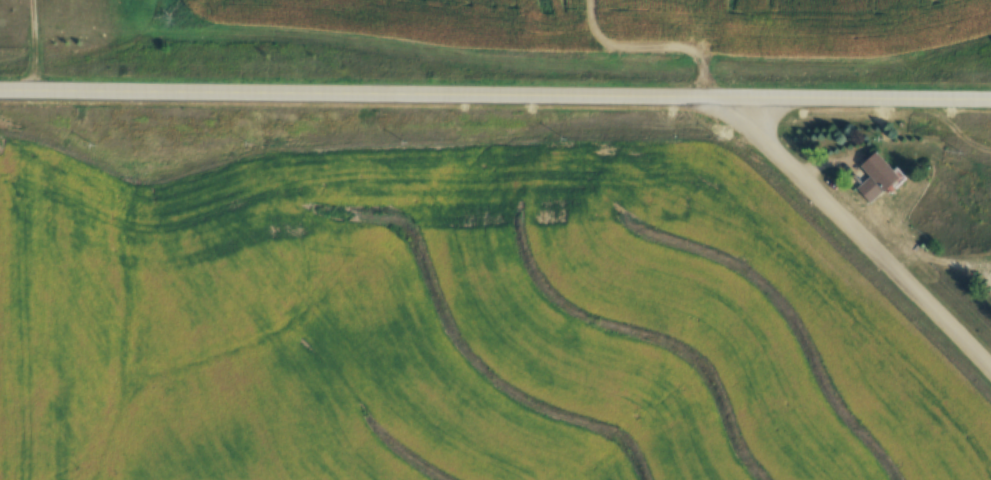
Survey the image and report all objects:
road: (30, 42)
road: (372, 88)
road: (868, 93)
building: (878, 168)
road: (858, 235)

